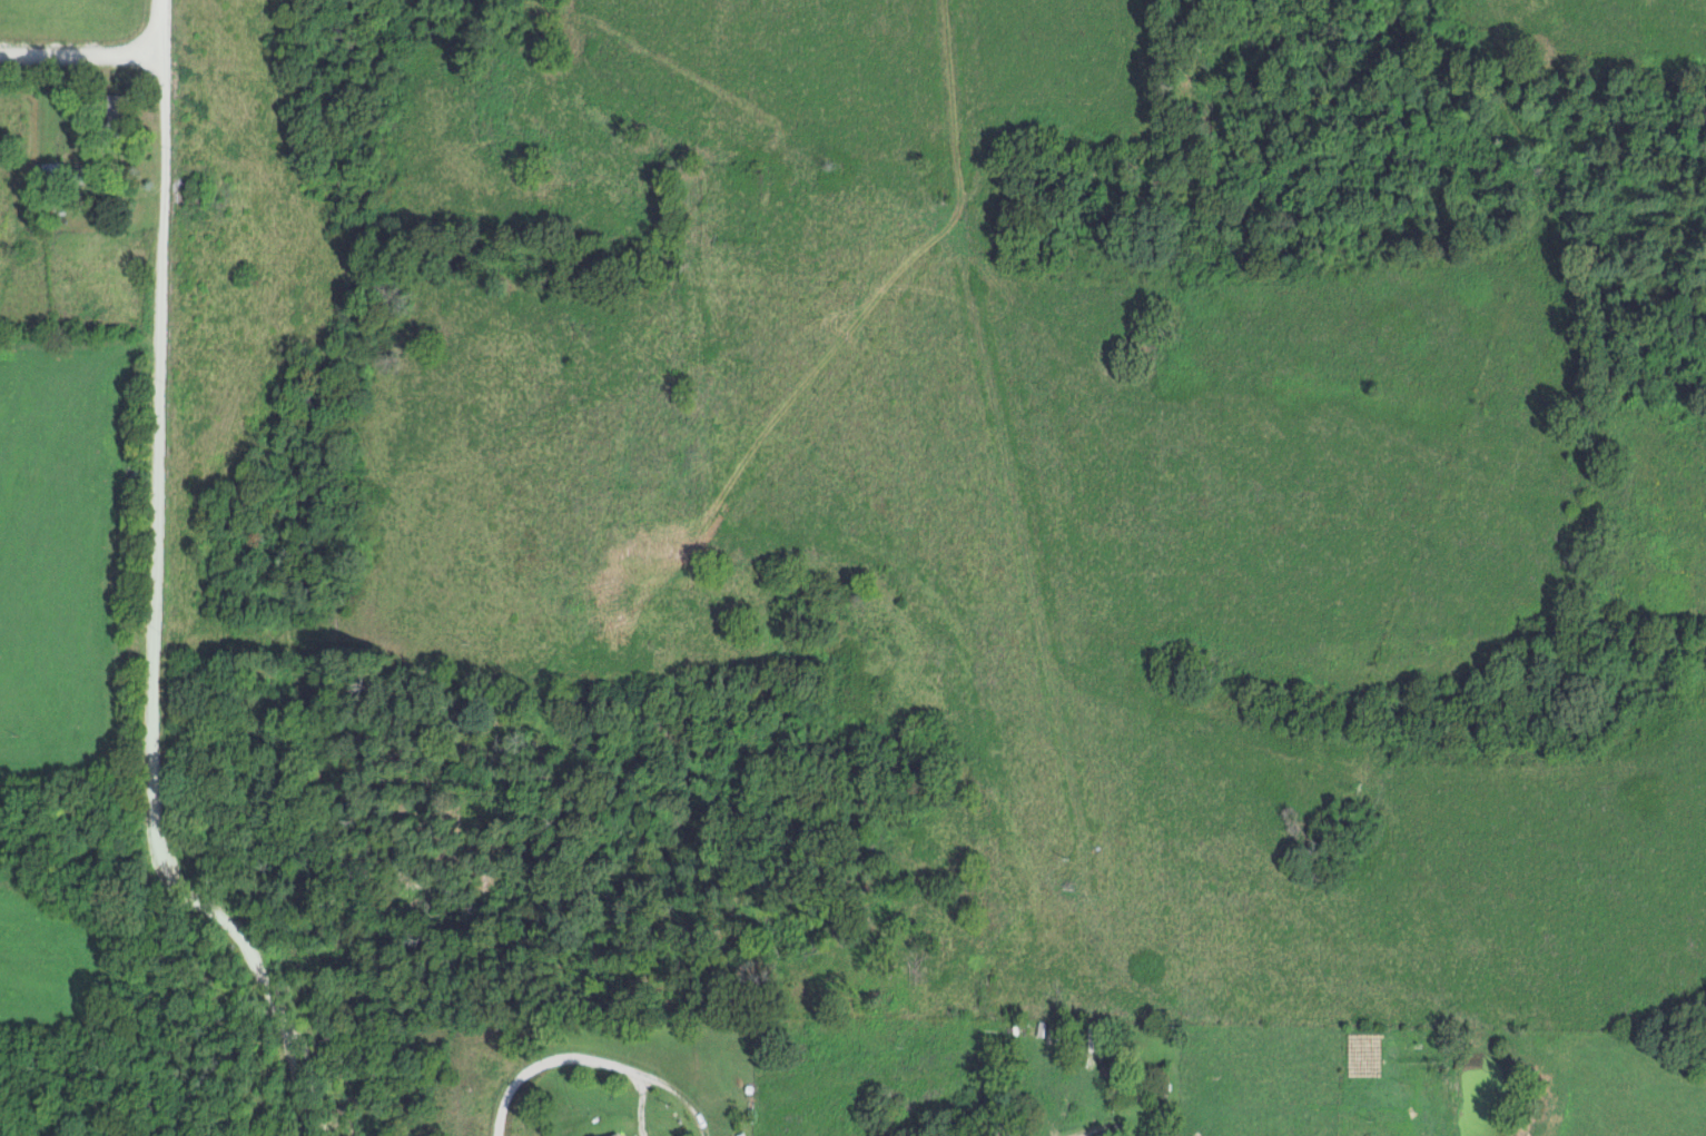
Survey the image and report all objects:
road: (80, 55)
building: (50, 172)
road: (151, 595)
road: (594, 1058)
building: (614, 1134)
building: (594, 1135)

